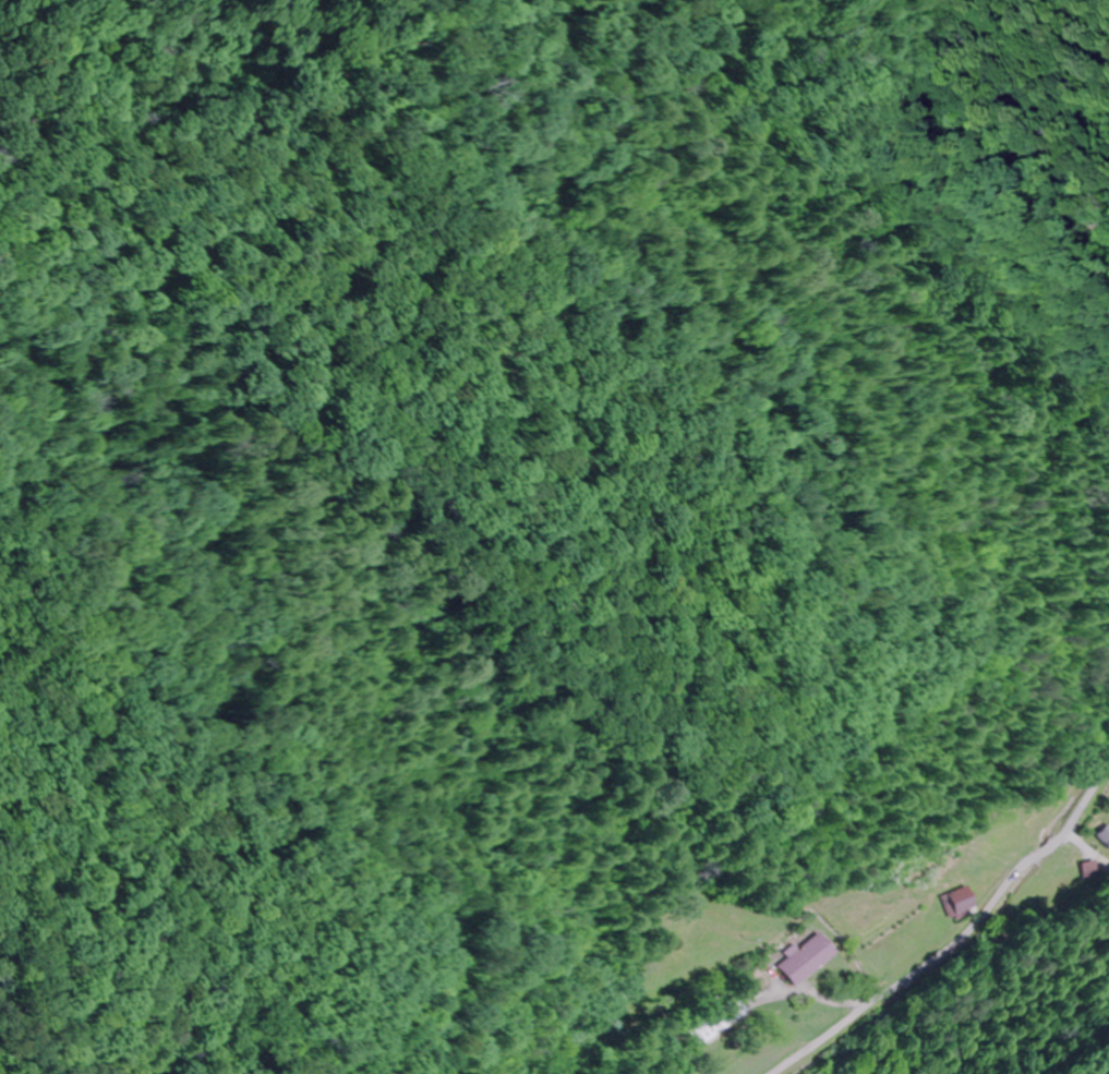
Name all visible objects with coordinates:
building: (1105, 836)
building: (1092, 871)
building: (959, 903)
road: (873, 944)
building: (806, 960)
building: (721, 1022)

